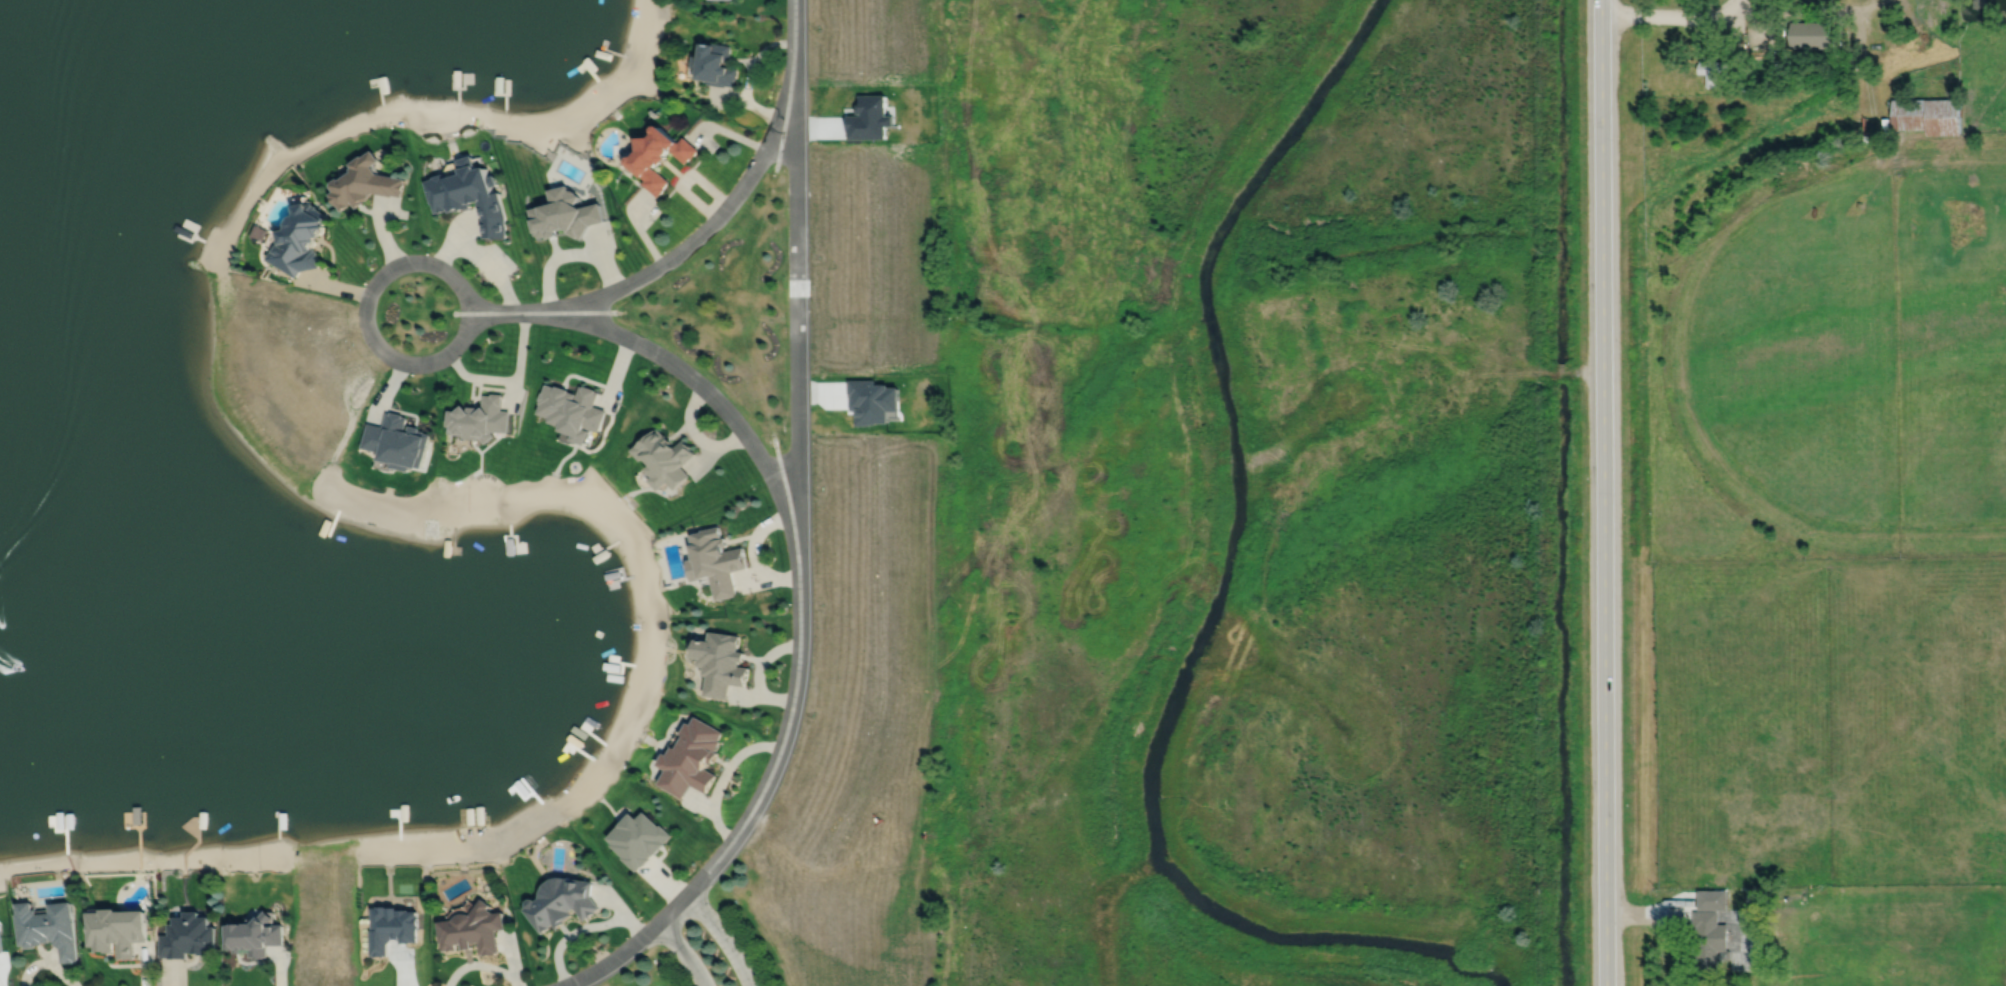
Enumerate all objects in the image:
building: (726, 0)
road: (1730, 7)
road: (1783, 9)
building: (1811, 31)
building: (715, 64)
building: (1710, 69)
road: (748, 74)
building: (1908, 112)
building: (1943, 114)
road: (729, 131)
building: (658, 154)
road: (685, 178)
building: (365, 181)
building: (468, 192)
building: (564, 212)
road: (717, 216)
road: (642, 234)
building: (301, 239)
road: (365, 311)
road: (692, 379)
building: (572, 410)
building: (480, 419)
building: (397, 442)
building: (665, 458)
road: (800, 482)
road: (1602, 493)
building: (716, 562)
building: (722, 664)
building: (692, 758)
building: (638, 836)
building: (1754, 896)
building: (1712, 897)
building: (561, 899)
building: (47, 925)
building: (391, 925)
building: (116, 927)
building: (472, 927)
building: (255, 933)
building: (187, 934)
road: (723, 936)
building: (1709, 939)
road: (684, 951)
road: (613, 957)
building: (1888, 970)

